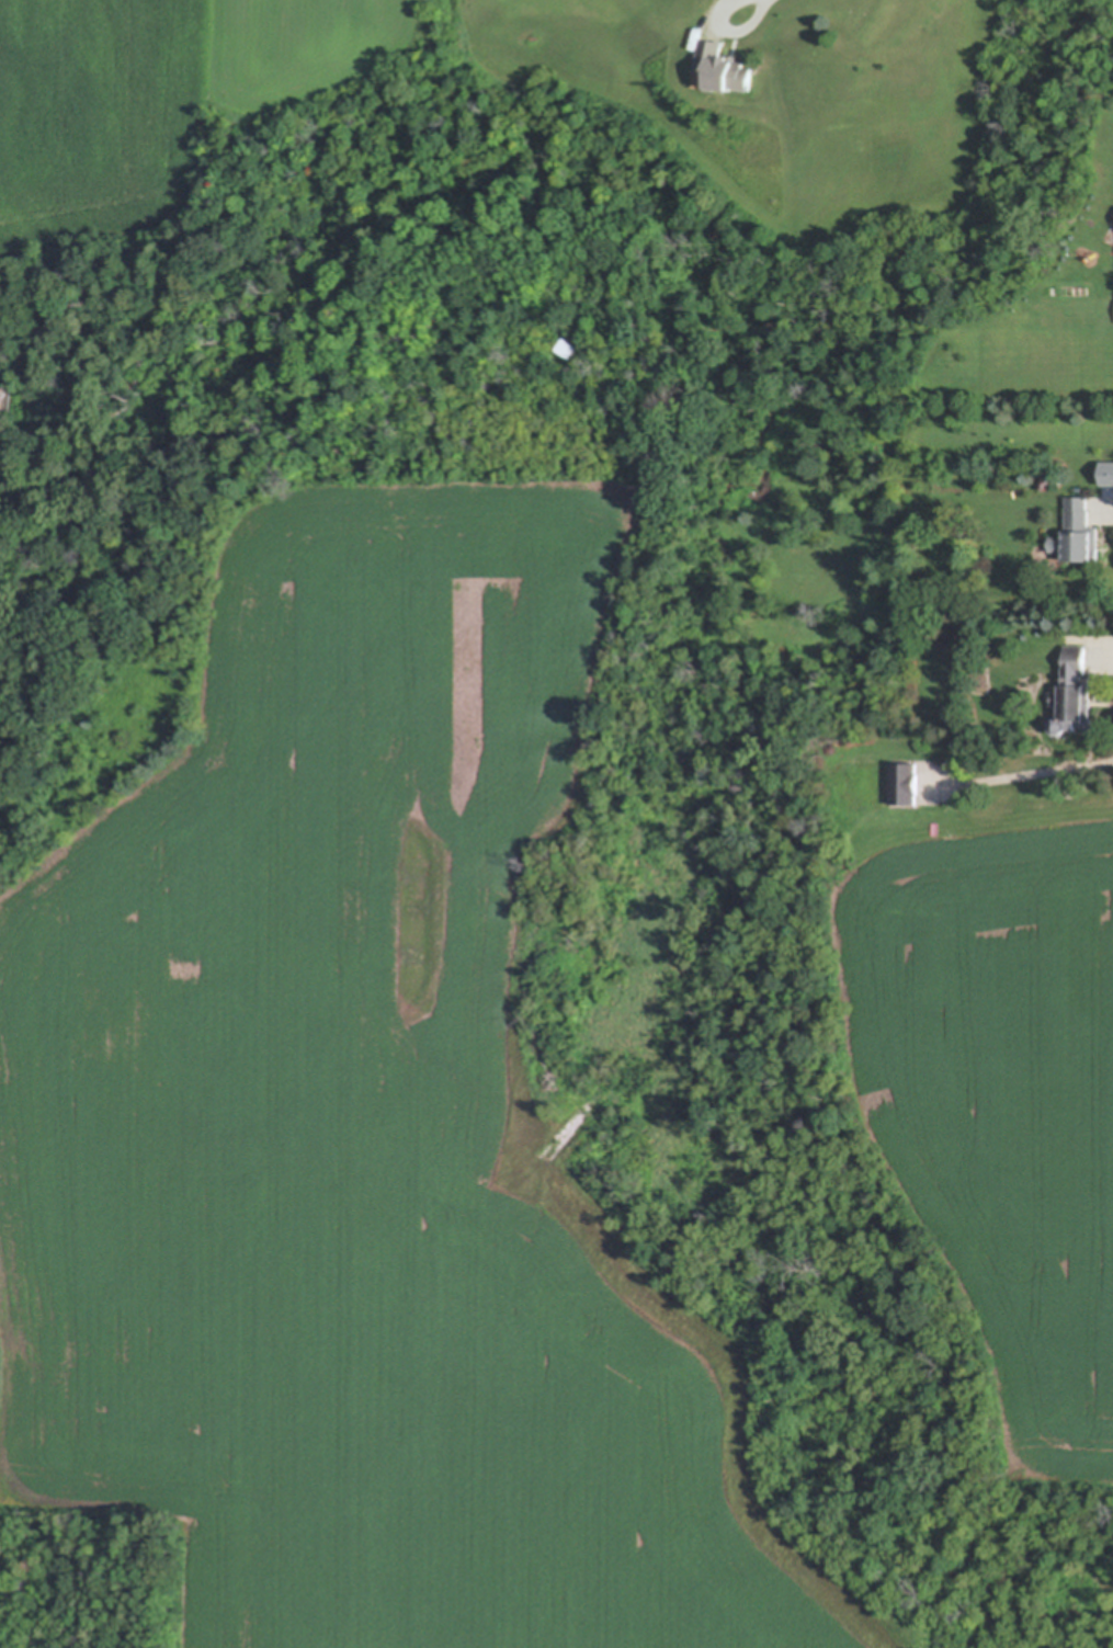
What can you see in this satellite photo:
road: (763, 9)
building: (725, 67)
building: (568, 349)
building: (2, 396)
building: (1106, 480)
road: (1112, 513)
building: (1079, 534)
building: (1075, 695)
building: (906, 785)

